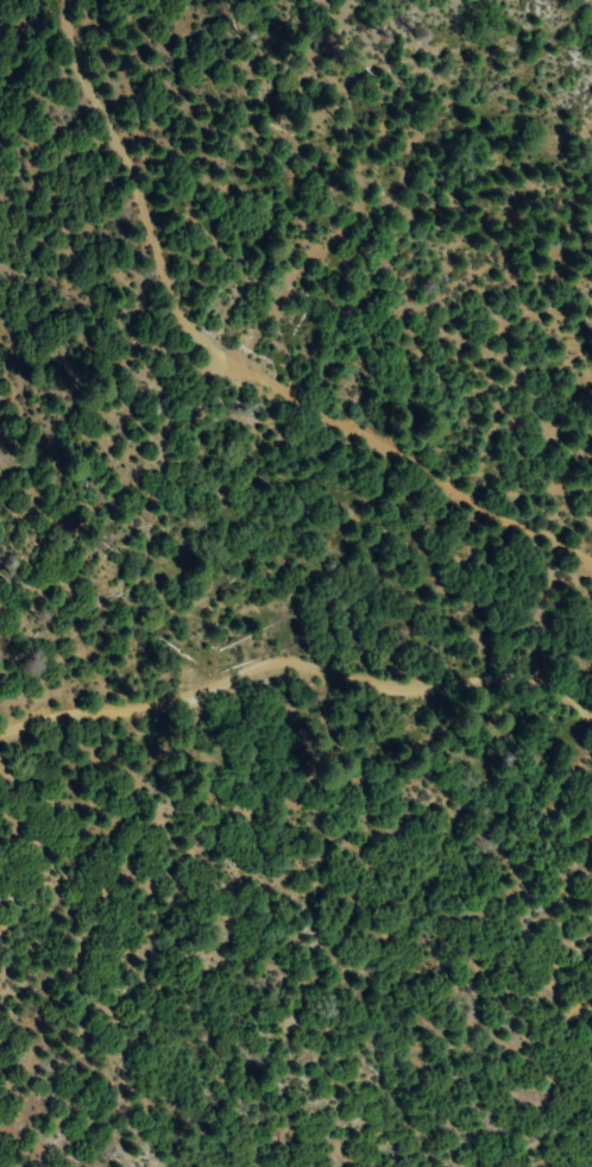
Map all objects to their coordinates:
road: (296, 680)

